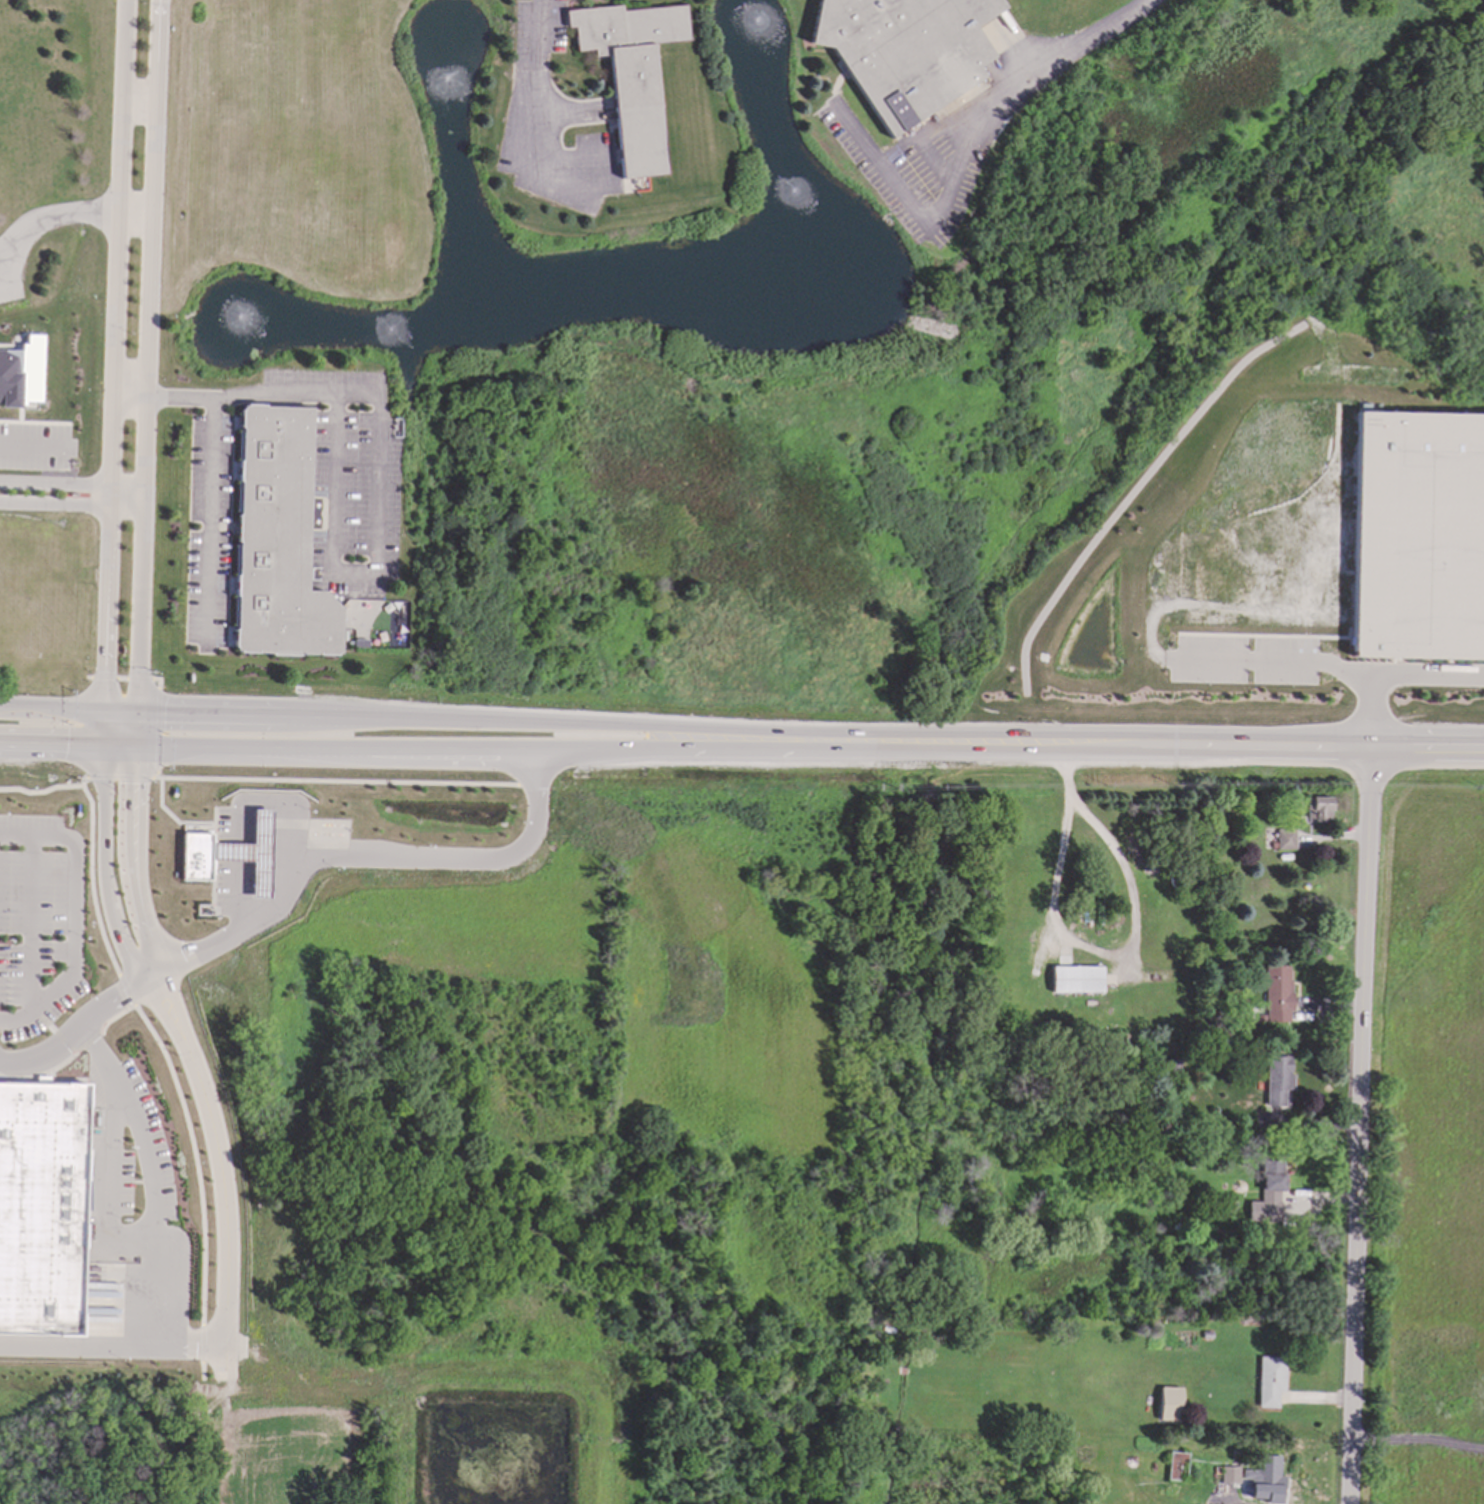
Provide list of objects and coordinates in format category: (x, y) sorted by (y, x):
building: (905, 52)
building: (631, 75)
road: (532, 88)
road: (140, 106)
road: (966, 149)
road: (72, 215)
building: (22, 373)
road: (33, 440)
road: (379, 457)
road: (74, 482)
road: (73, 504)
road: (211, 523)
road: (147, 524)
road: (109, 531)
building: (1418, 537)
building: (277, 540)
road: (1282, 661)
traffic signals: (105, 673)
road: (88, 678)
road: (104, 679)
road: (122, 679)
road: (1392, 679)
road: (140, 680)
road: (158, 681)
road: (149, 717)
traffic signals: (164, 717)
road: (564, 725)
road: (157, 730)
traffic signals: (66, 745)
road: (170, 747)
road: (682, 749)
road: (1155, 749)
road: (438, 750)
road: (156, 775)
road: (120, 777)
road: (345, 781)
traffic signals: (140, 785)
road: (40, 793)
road: (274, 807)
building: (1318, 809)
road: (181, 824)
building: (1285, 840)
building: (251, 854)
building: (195, 857)
road: (90, 876)
road: (290, 887)
road: (240, 895)
road: (72, 916)
road: (30, 926)
road: (1081, 945)
building: (1077, 980)
road: (124, 990)
building: (1278, 994)
road: (42, 1022)
road: (61, 1042)
road: (86, 1043)
road: (40, 1072)
building: (1278, 1081)
road: (1360, 1128)
road: (187, 1135)
road: (150, 1176)
road: (106, 1178)
building: (1271, 1181)
road: (224, 1204)
building: (40, 1208)
road: (116, 1293)
road: (113, 1343)
road: (202, 1343)
road: (202, 1371)
building: (1269, 1382)
building: (1170, 1405)
road: (1418, 1442)
crop: (302, 1460)
building: (1176, 1465)
building: (1265, 1472)
building: (1230, 1476)

